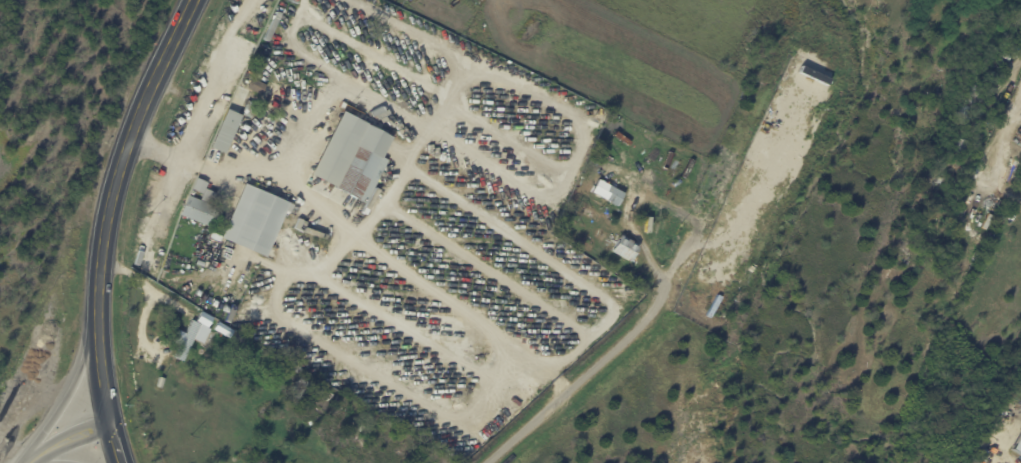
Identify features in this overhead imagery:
building: (288, 17)
building: (274, 41)
building: (307, 58)
building: (331, 59)
building: (374, 63)
building: (771, 65)
building: (305, 66)
building: (242, 97)
building: (249, 97)
building: (971, 98)
building: (454, 112)
building: (957, 115)
building: (223, 131)
building: (487, 141)
building: (1010, 145)
building: (957, 148)
road: (122, 157)
road: (178, 158)
building: (350, 159)
building: (524, 164)
building: (941, 183)
building: (202, 191)
building: (607, 194)
building: (198, 212)
building: (254, 217)
building: (303, 226)
building: (212, 238)
building: (622, 249)
road: (147, 290)
building: (228, 331)
building: (189, 339)
building: (239, 339)
building: (297, 371)
road: (586, 374)
road: (101, 375)
building: (159, 383)
building: (300, 391)
road: (66, 397)
road: (83, 432)
road: (115, 444)
building: (983, 446)
building: (1016, 446)
road: (43, 452)

